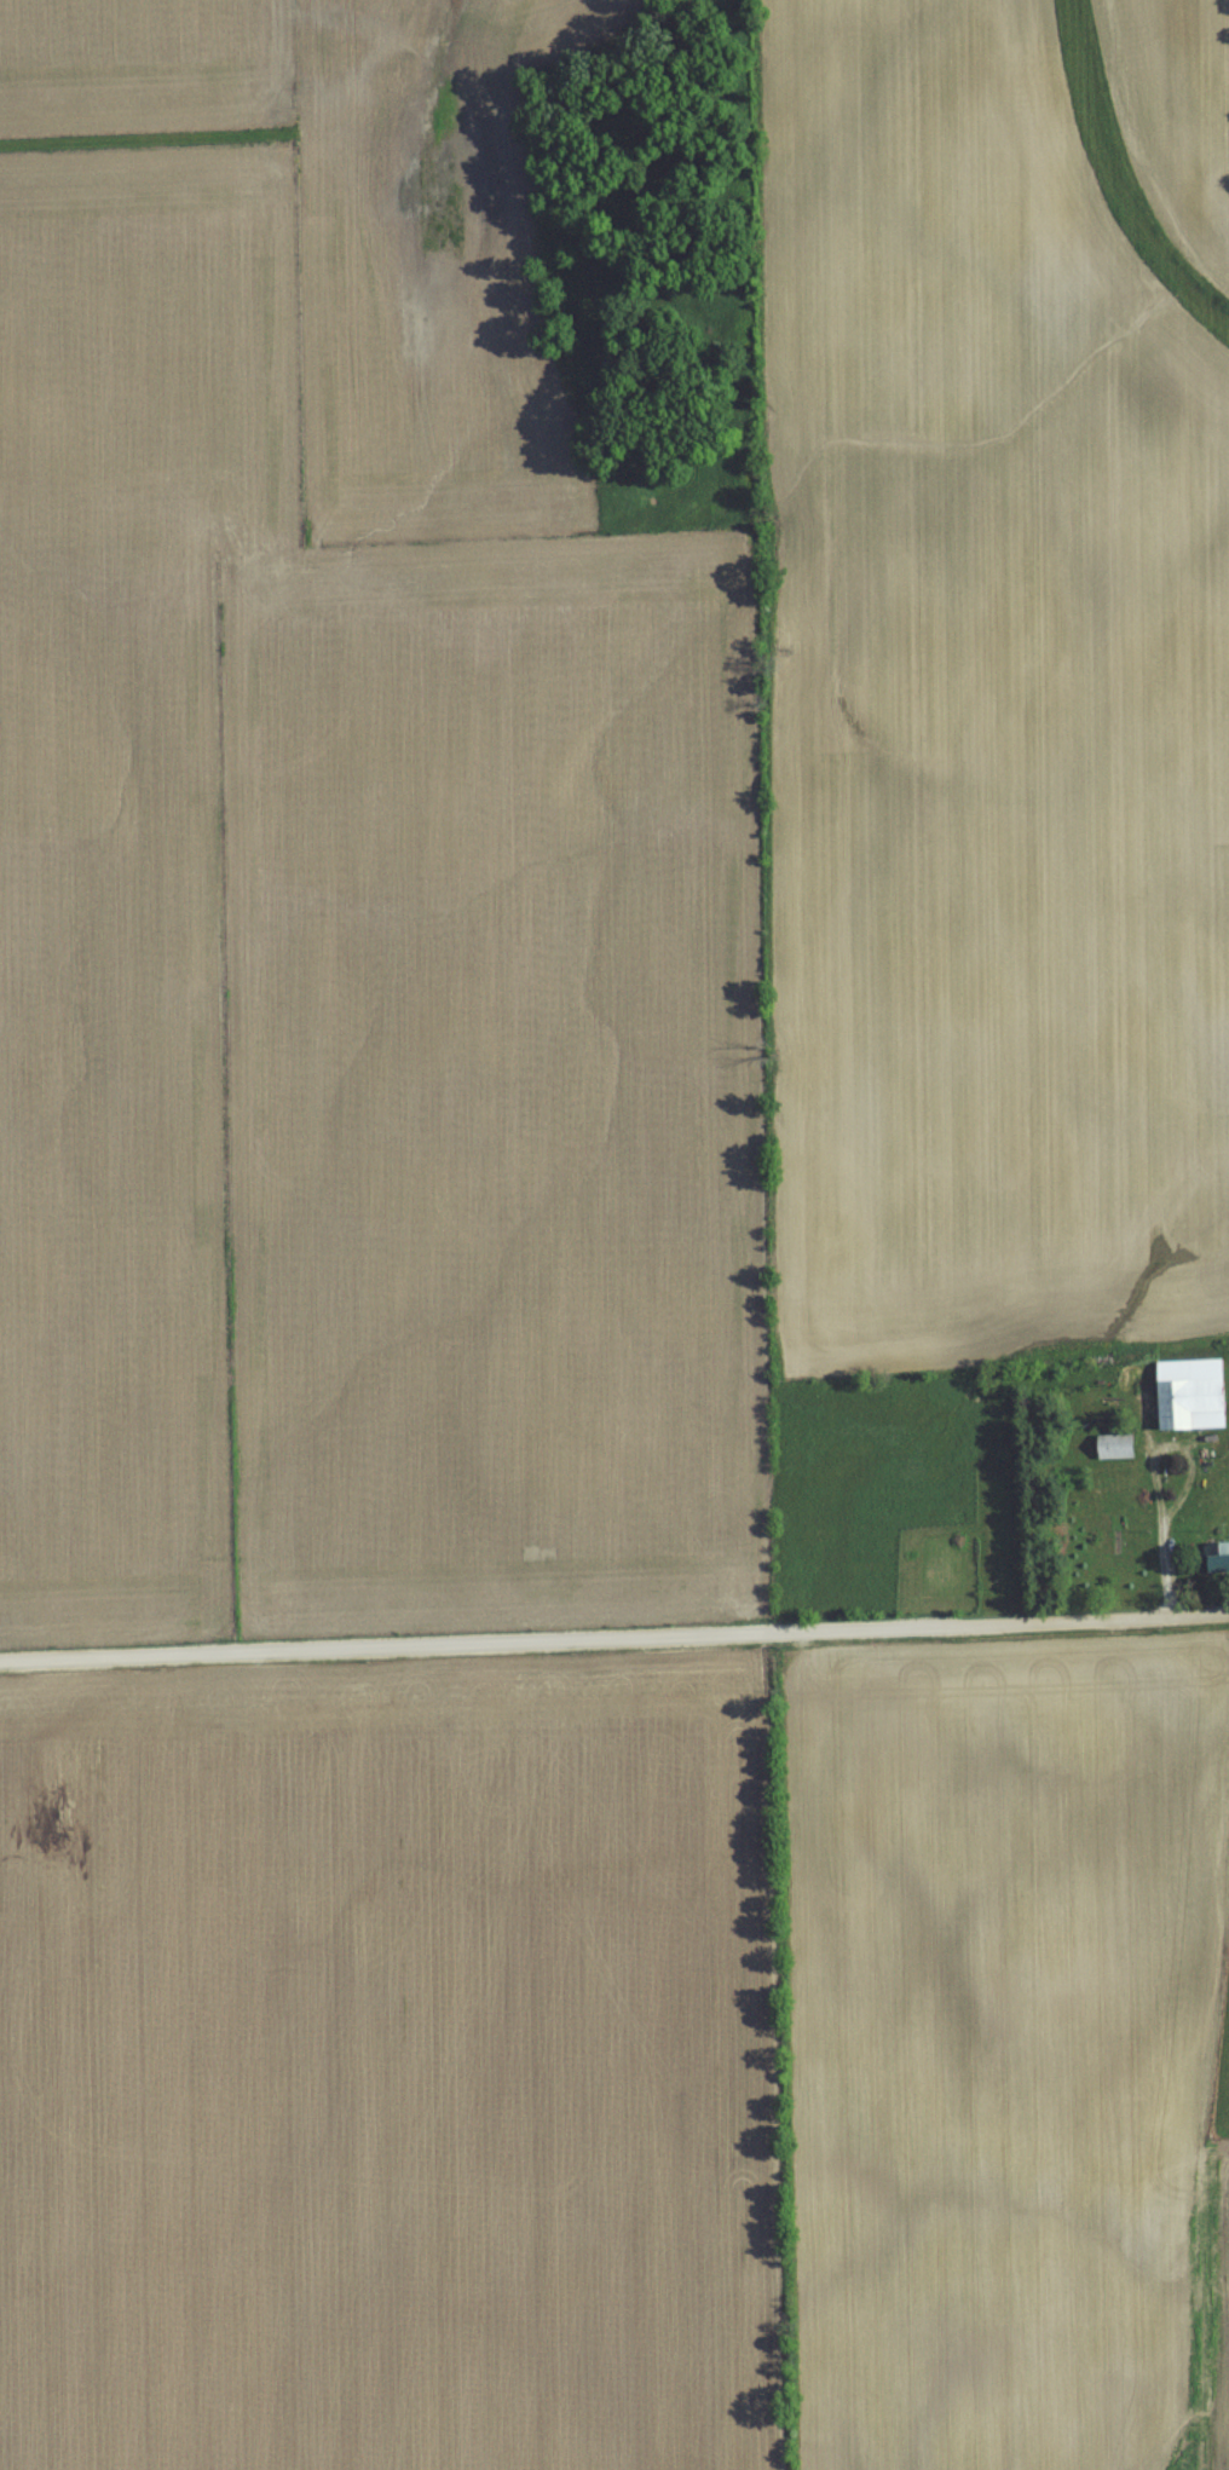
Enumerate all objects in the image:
building: (1178, 1398)
building: (1107, 1444)
building: (1212, 1556)
road: (614, 1633)

